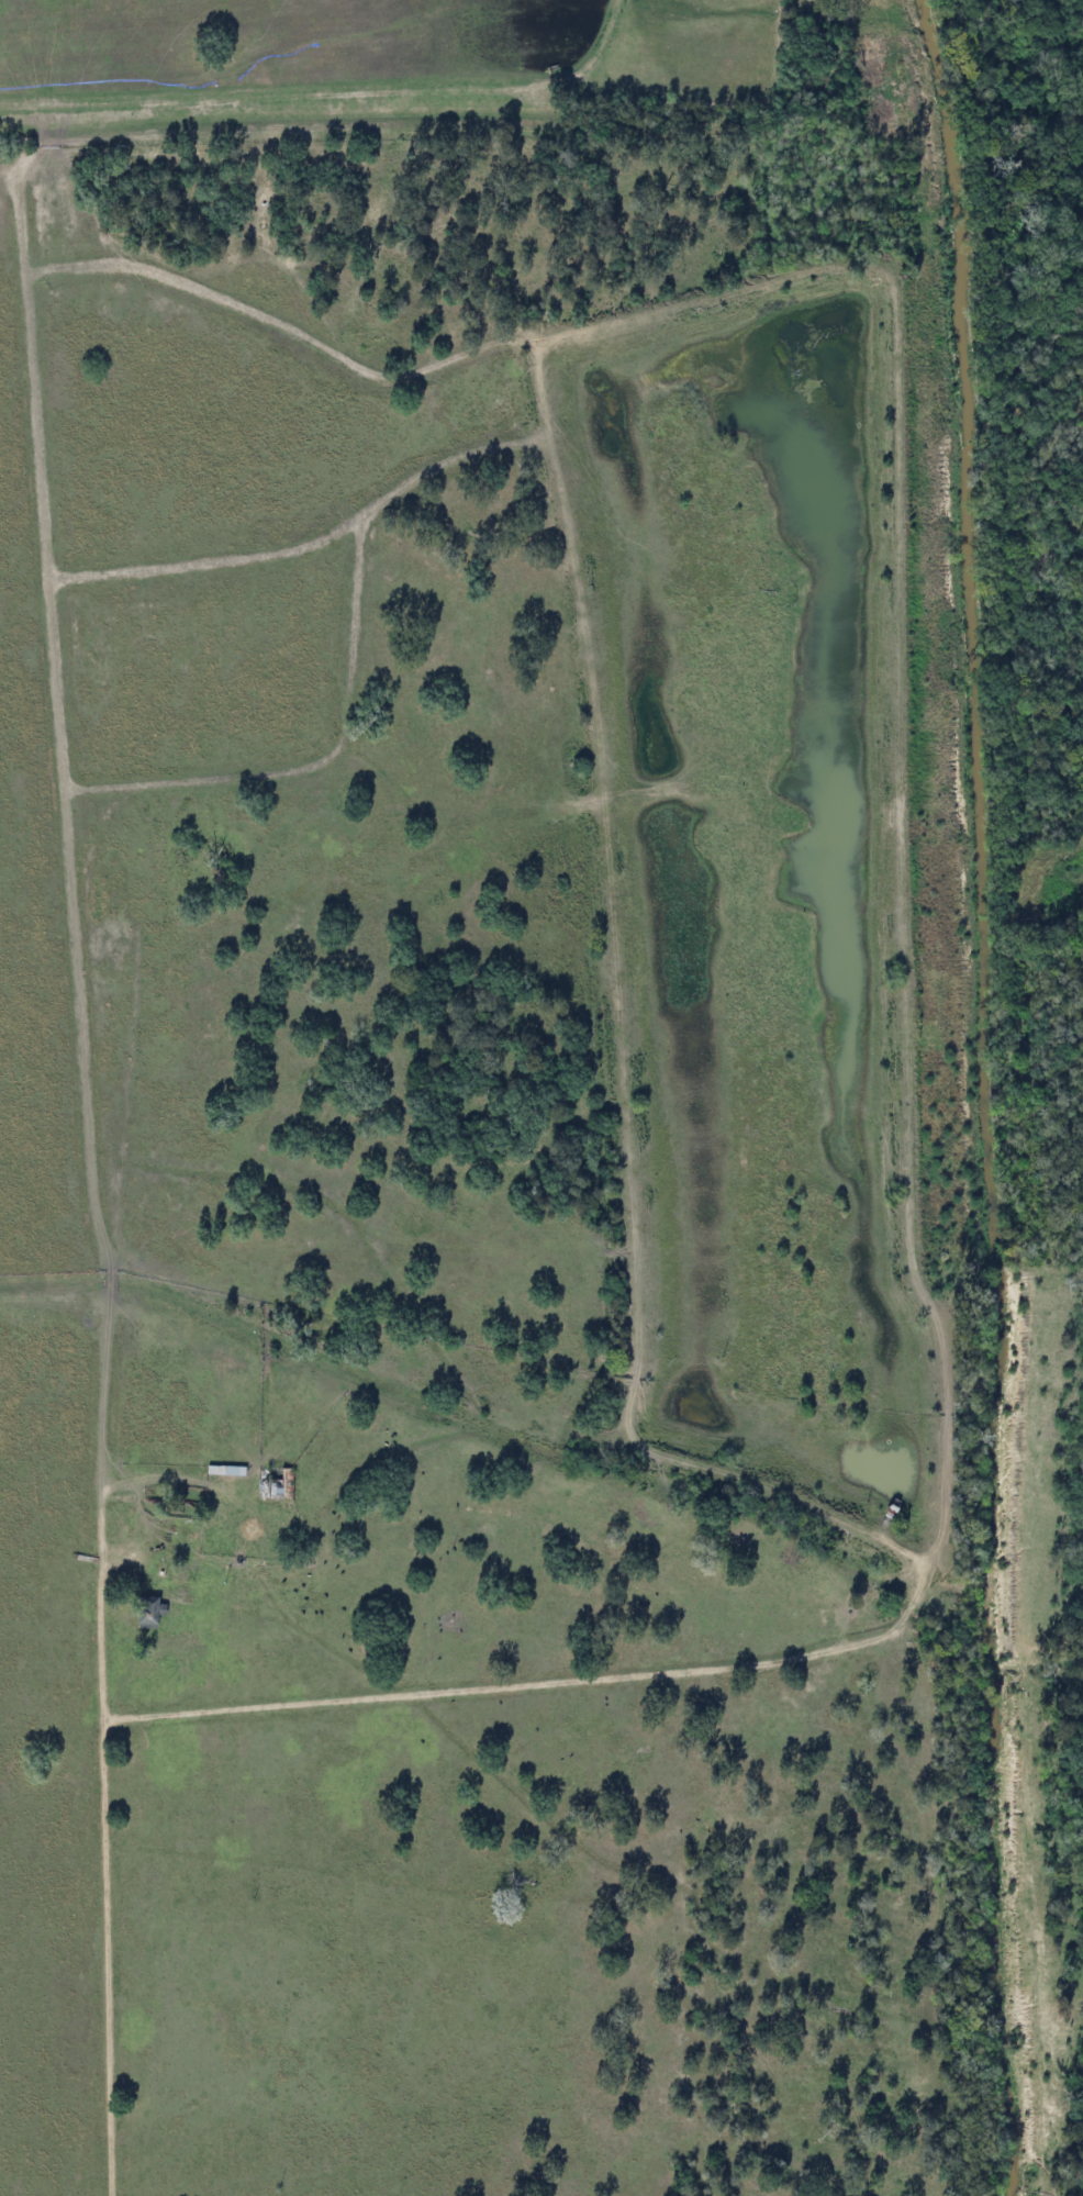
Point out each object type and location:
building: (271, 1484)
road: (100, 1594)
building: (145, 1612)
road: (295, 1694)

